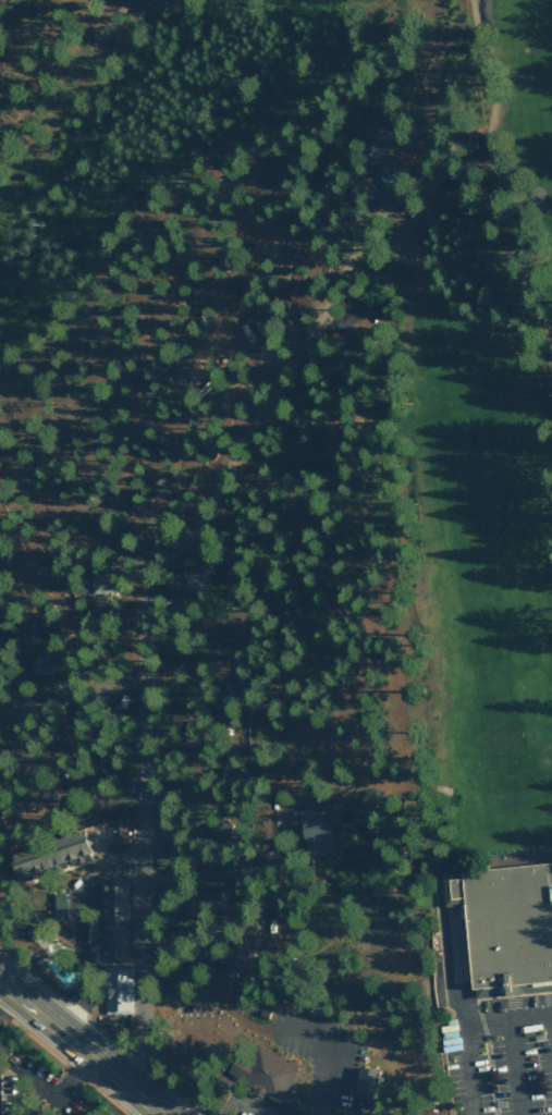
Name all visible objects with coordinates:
road: (480, 110)
building: (378, 176)
road: (549, 217)
park: (471, 424)
building: (328, 433)
building: (184, 580)
building: (36, 663)
road: (69, 694)
road: (134, 714)
building: (316, 824)
building: (113, 918)
building: (507, 926)
building: (116, 990)
road: (506, 1018)
road: (551, 1018)
building: (447, 1038)
road: (82, 1047)
road: (326, 1051)
road: (465, 1051)
parking lot: (501, 1056)
road: (513, 1066)
building: (266, 1074)
building: (359, 1093)

